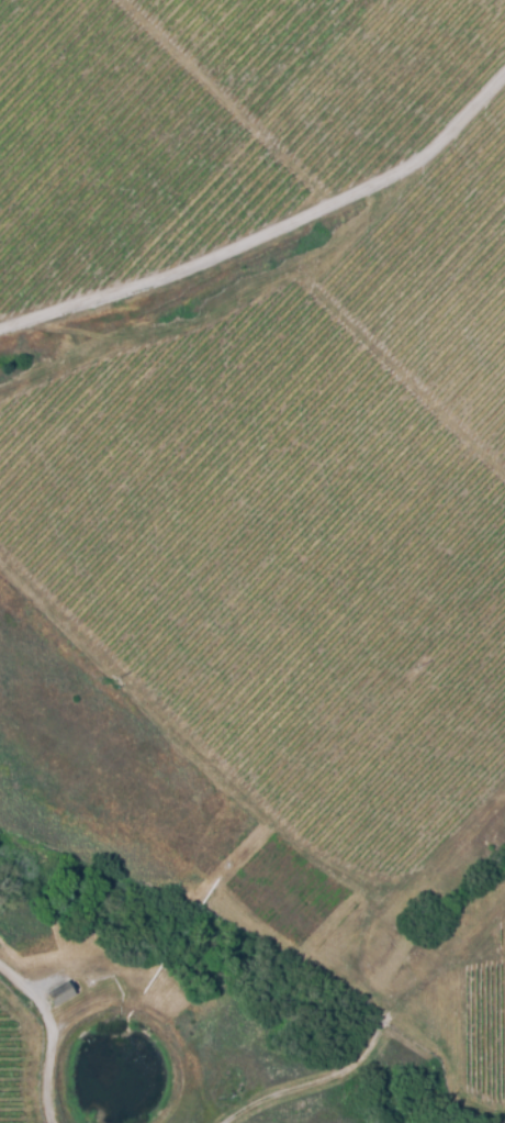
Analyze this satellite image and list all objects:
crop: (347, 68)
crop: (114, 154)
crop: (444, 274)
crop: (282, 565)
crop: (503, 936)
building: (58, 997)
crop: (485, 1024)
crop: (5, 1076)

